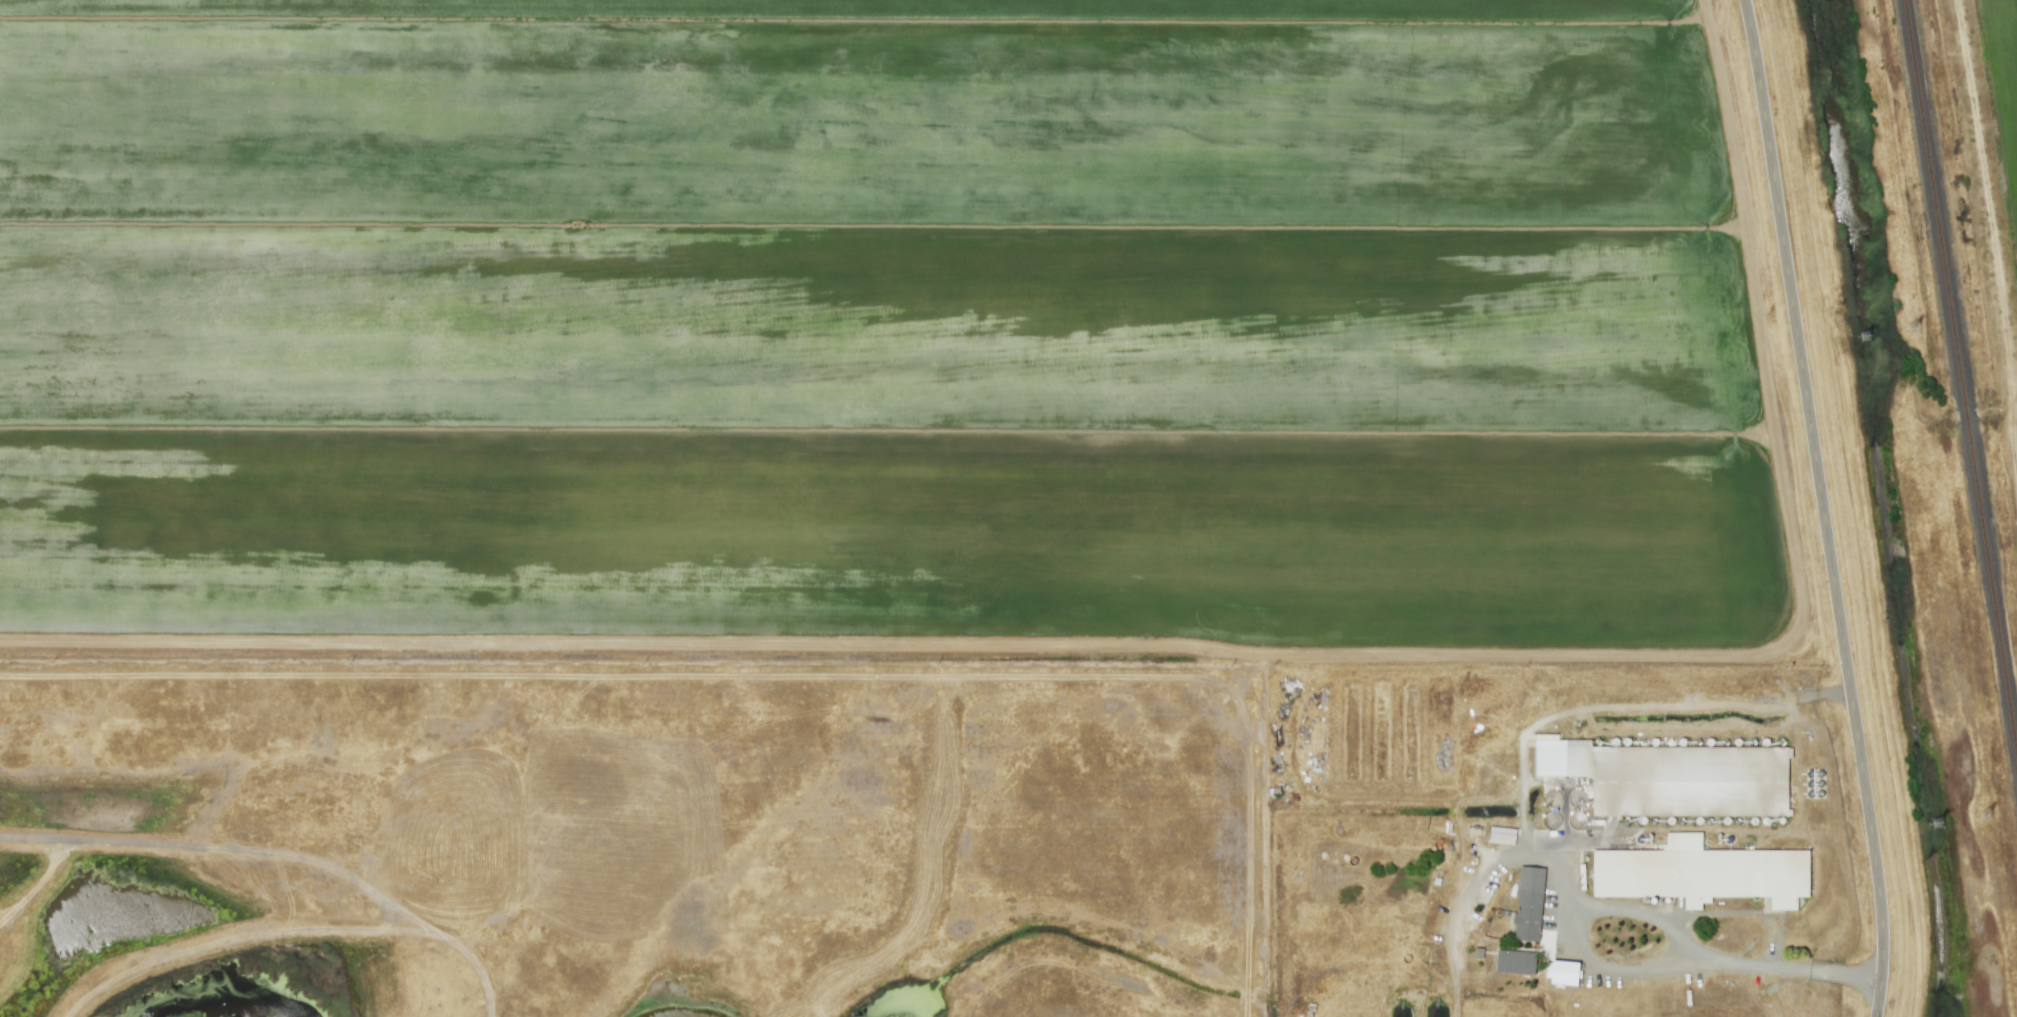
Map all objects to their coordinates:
crop: (1986, 183)
railway: (1940, 207)
power tower: (1918, 331)
power tower: (1870, 339)
railway: (1971, 418)
road: (1823, 482)
railway: (1994, 575)
building: (1672, 777)
power tower: (1991, 815)
power tower: (1941, 823)
road: (1595, 838)
building: (1700, 873)
building: (1528, 904)
road: (1636, 911)
building: (1514, 961)
road: (1639, 967)
building: (1563, 973)
road: (1879, 991)

